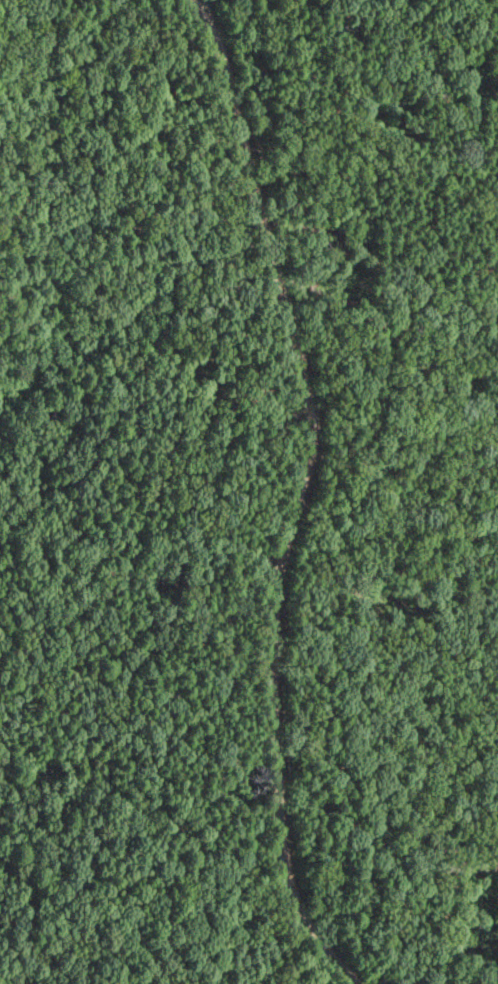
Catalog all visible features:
road: (299, 494)

